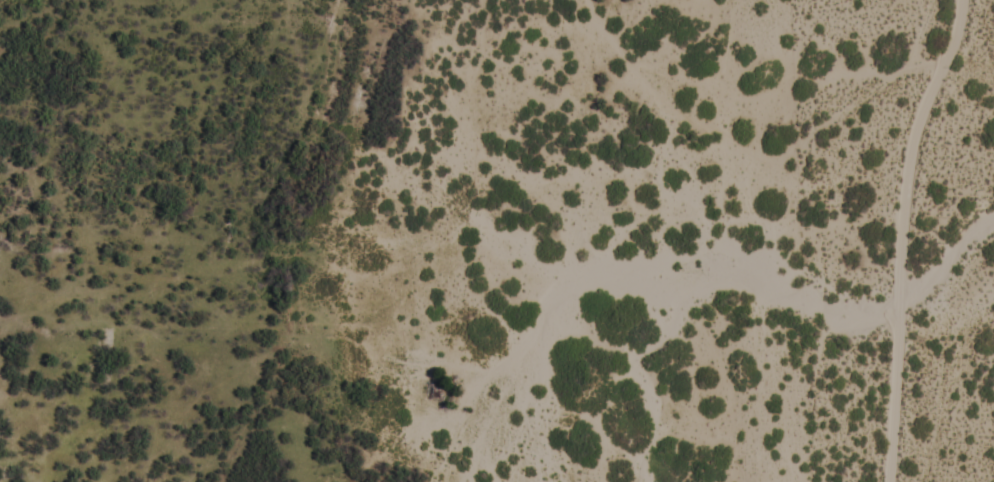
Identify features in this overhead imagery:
road: (847, 240)

